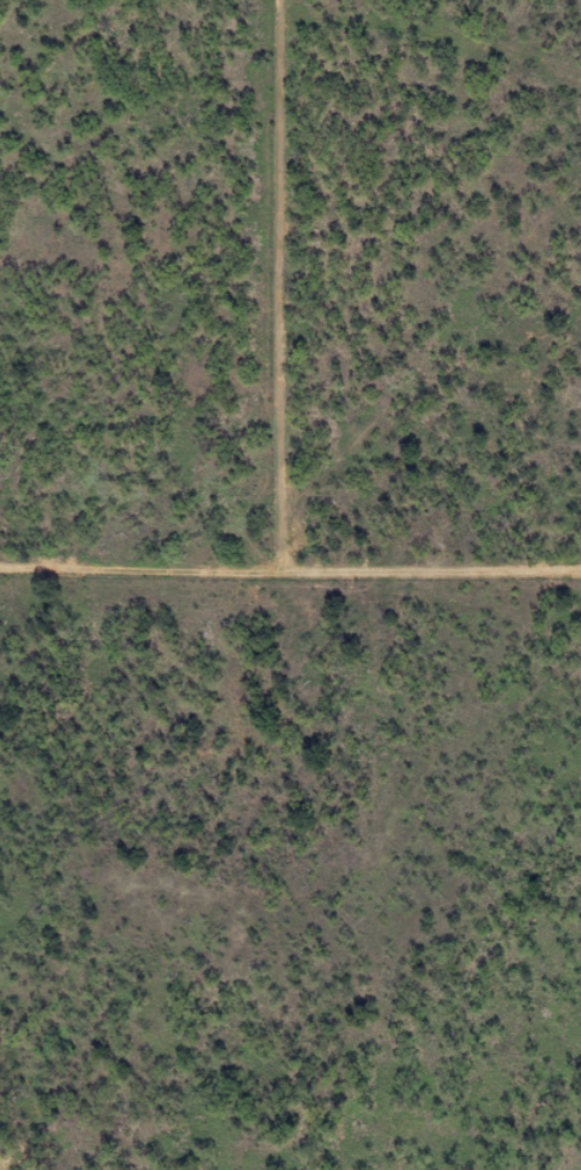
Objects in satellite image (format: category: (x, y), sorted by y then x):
road: (237, 327)

